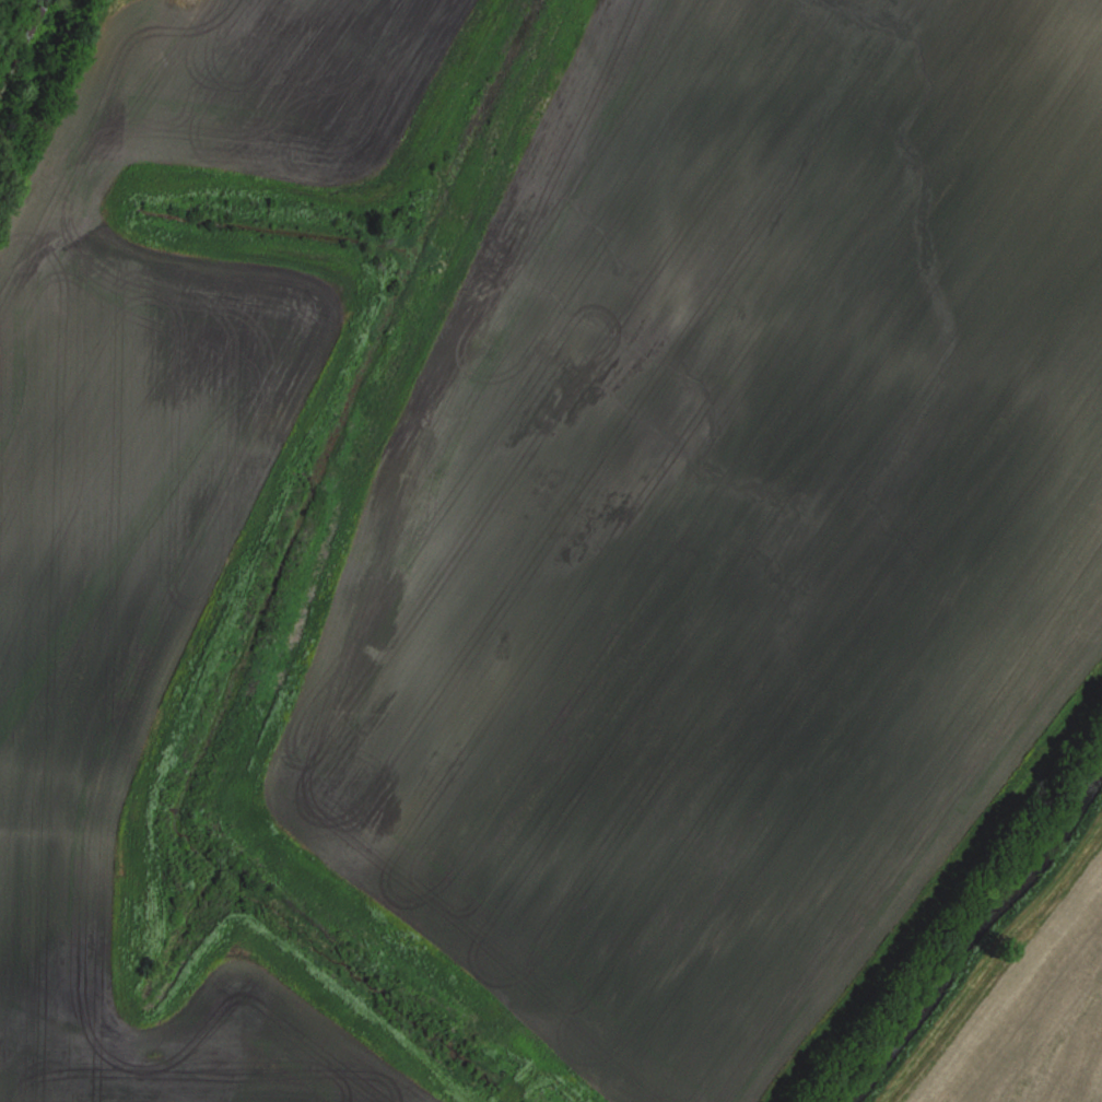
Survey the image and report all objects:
building: (13, 63)
road: (44, 91)

